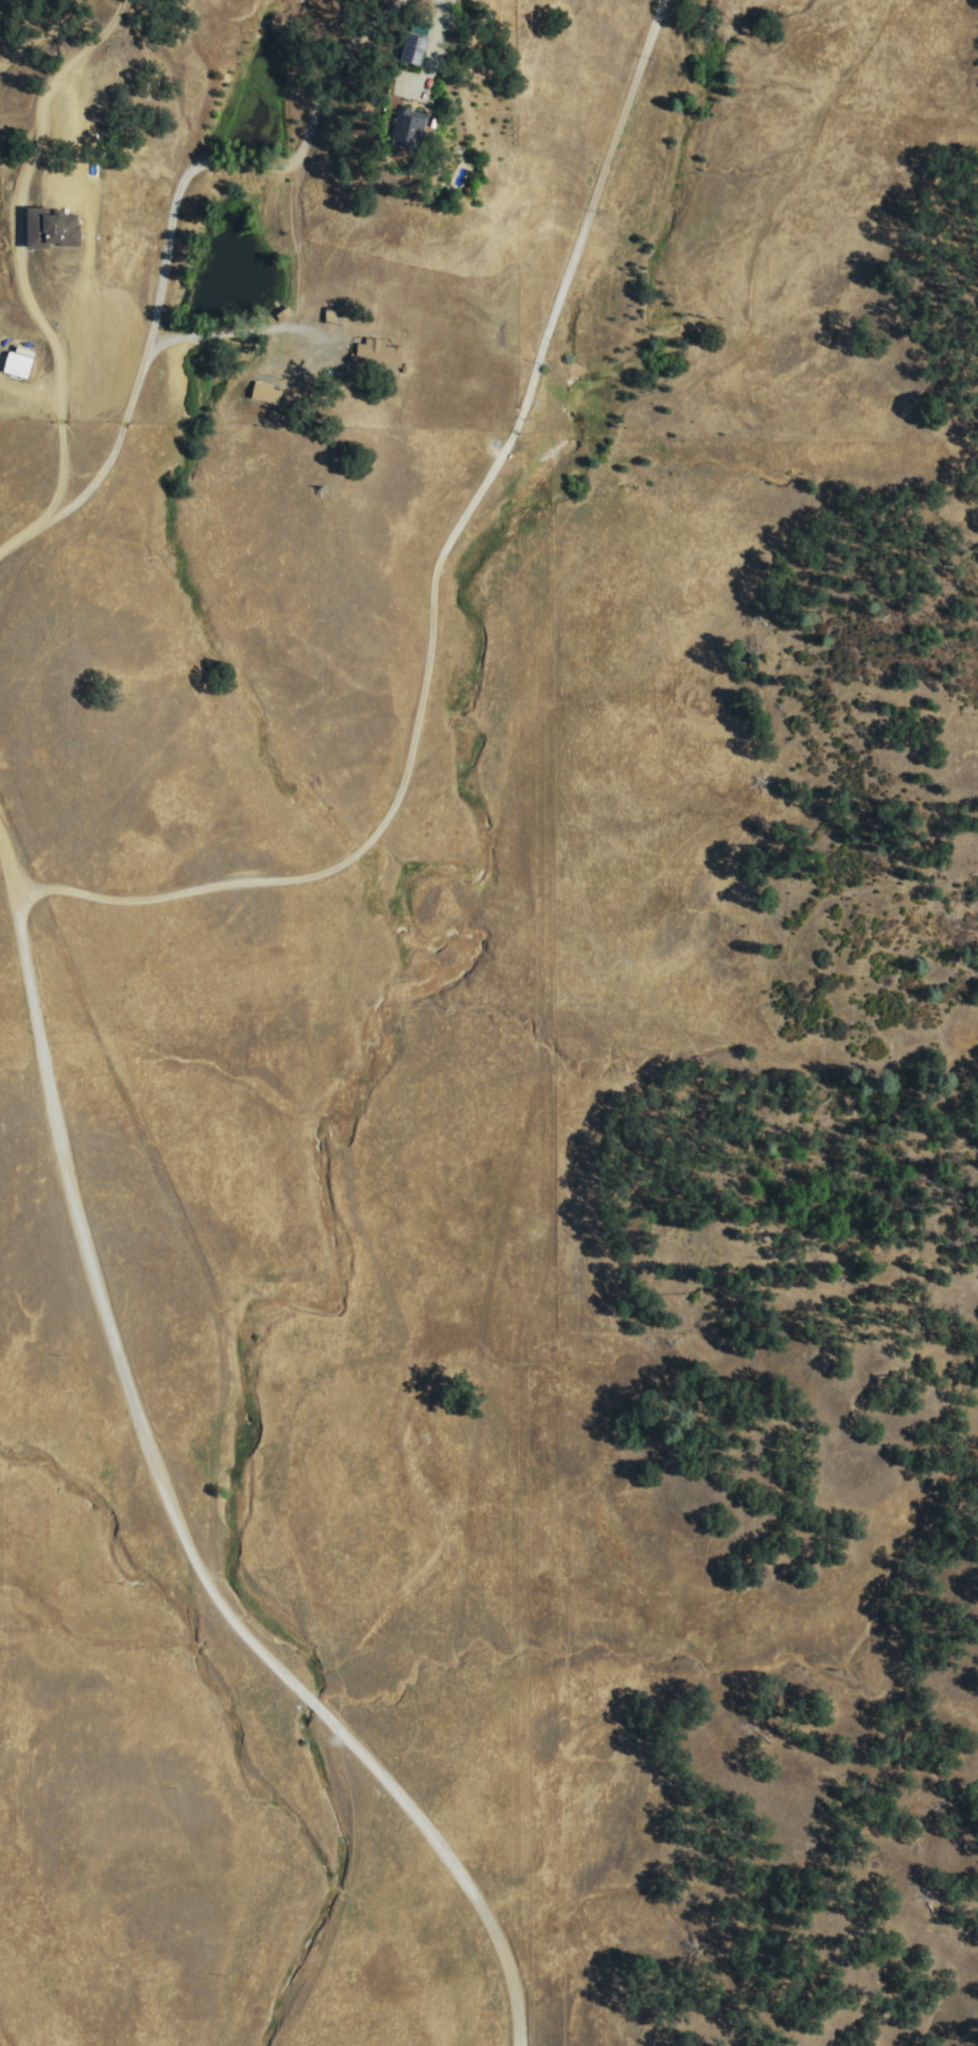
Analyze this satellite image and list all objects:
road: (430, 51)
building: (392, 124)
road: (173, 204)
building: (43, 227)
road: (22, 248)
building: (326, 314)
road: (305, 325)
building: (372, 351)
building: (13, 362)
building: (261, 391)
road: (28, 542)
road: (440, 587)
road: (13, 858)
road: (182, 1519)

